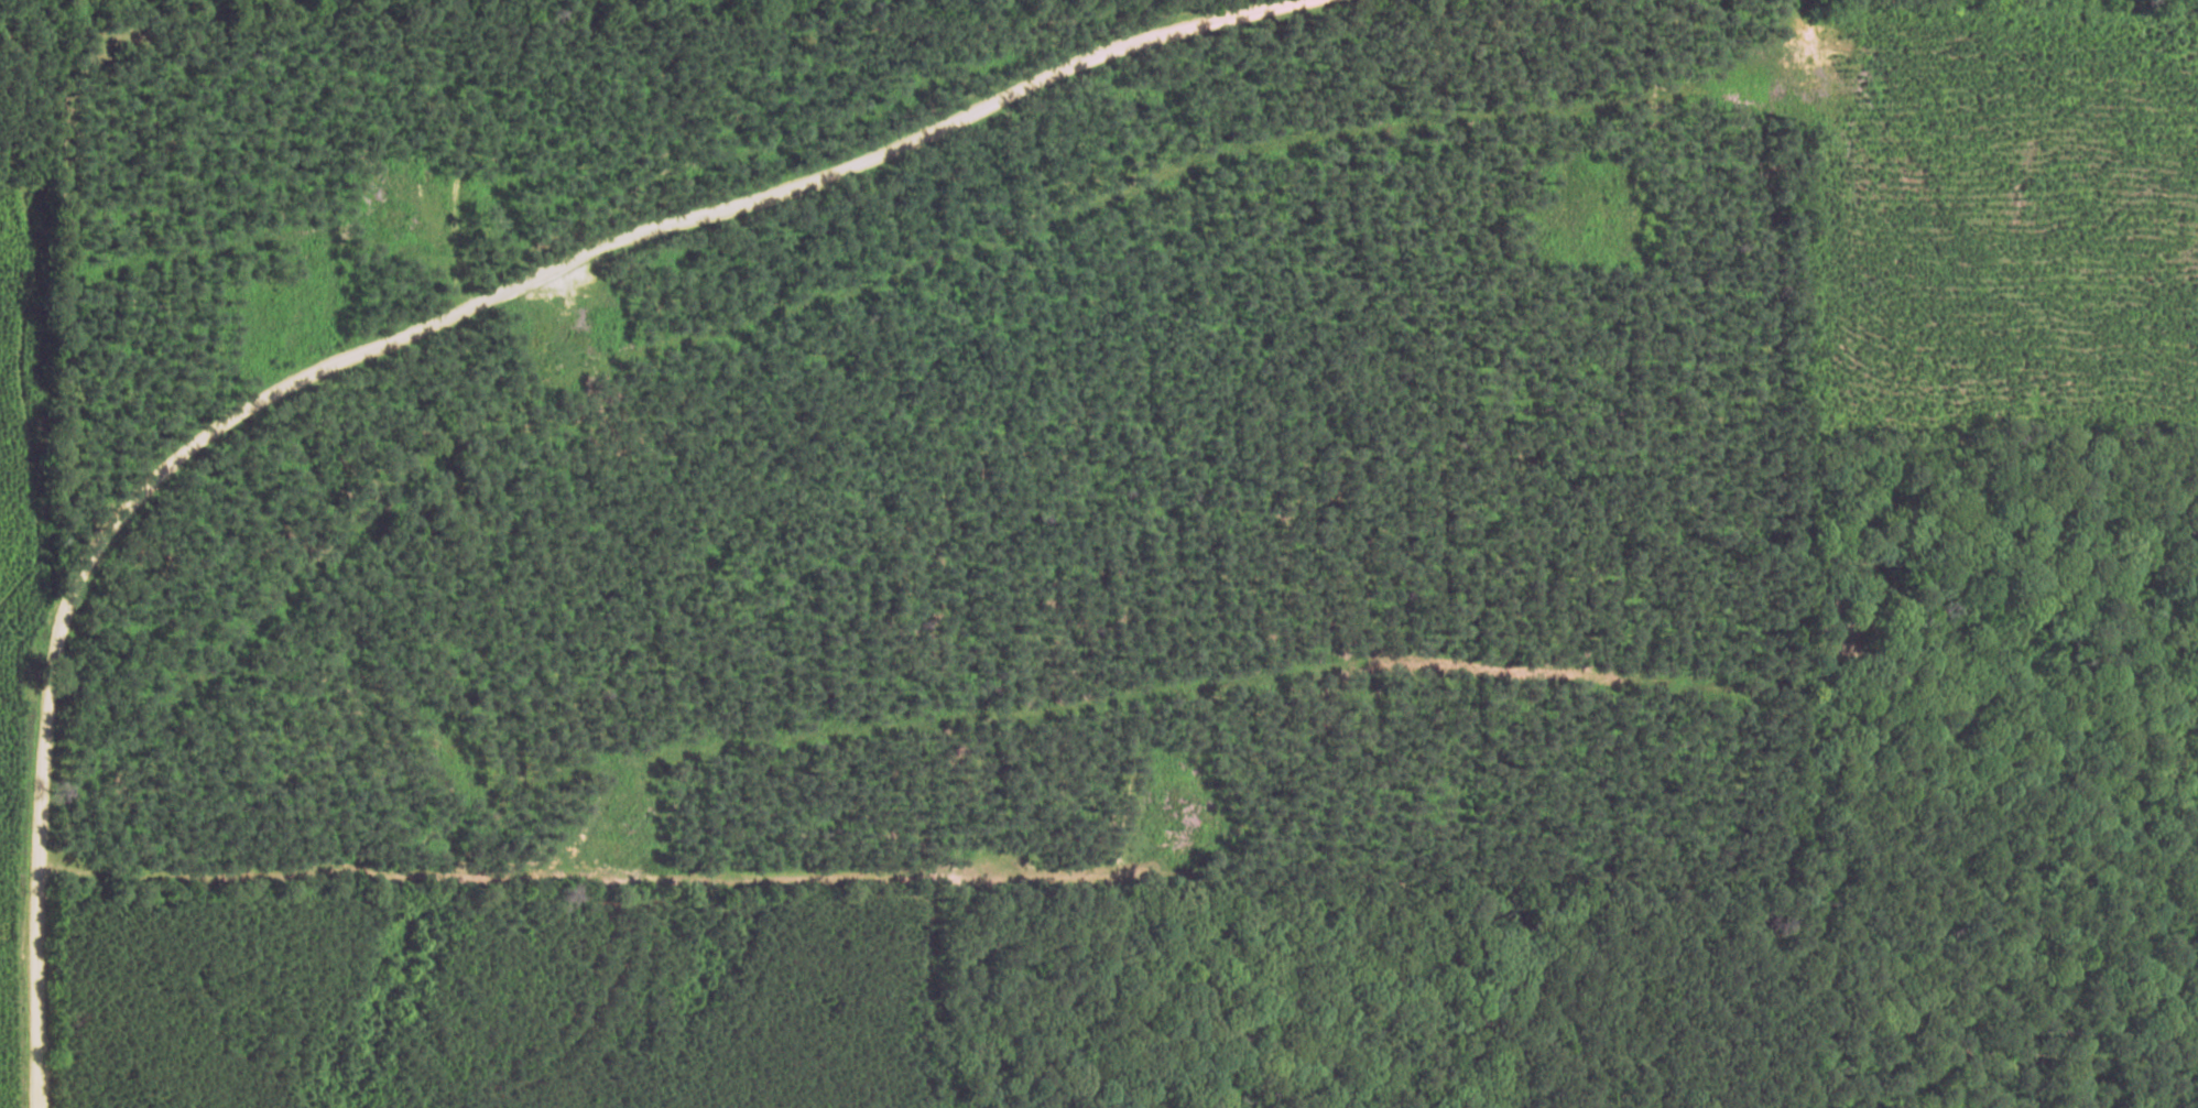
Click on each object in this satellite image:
road: (1684, 99)
road: (1908, 246)
road: (475, 350)

